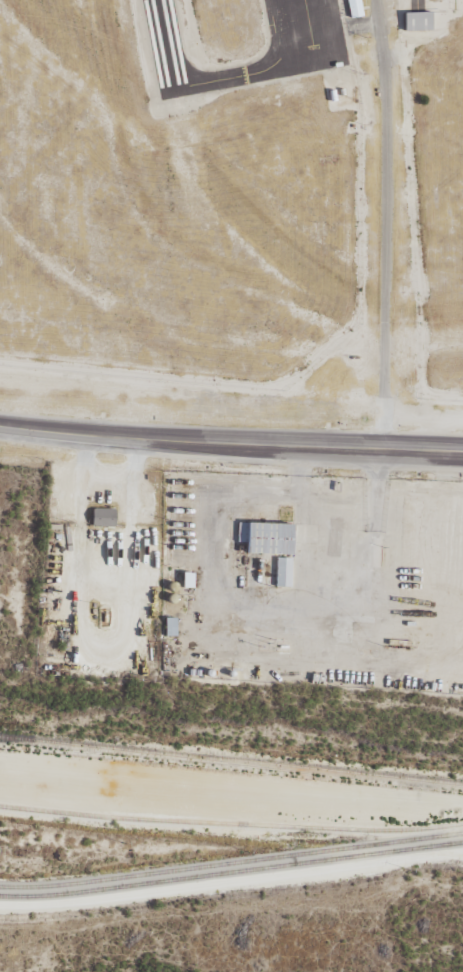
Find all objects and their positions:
building: (353, 8)
building: (417, 20)
airport runway: (163, 44)
airport taxiway: (262, 71)
airport: (235, 190)
road: (383, 223)
road: (178, 437)
road: (410, 448)
building: (100, 517)
building: (270, 545)
building: (184, 579)
building: (168, 626)
railway: (231, 760)
railway: (231, 770)
road: (231, 840)

